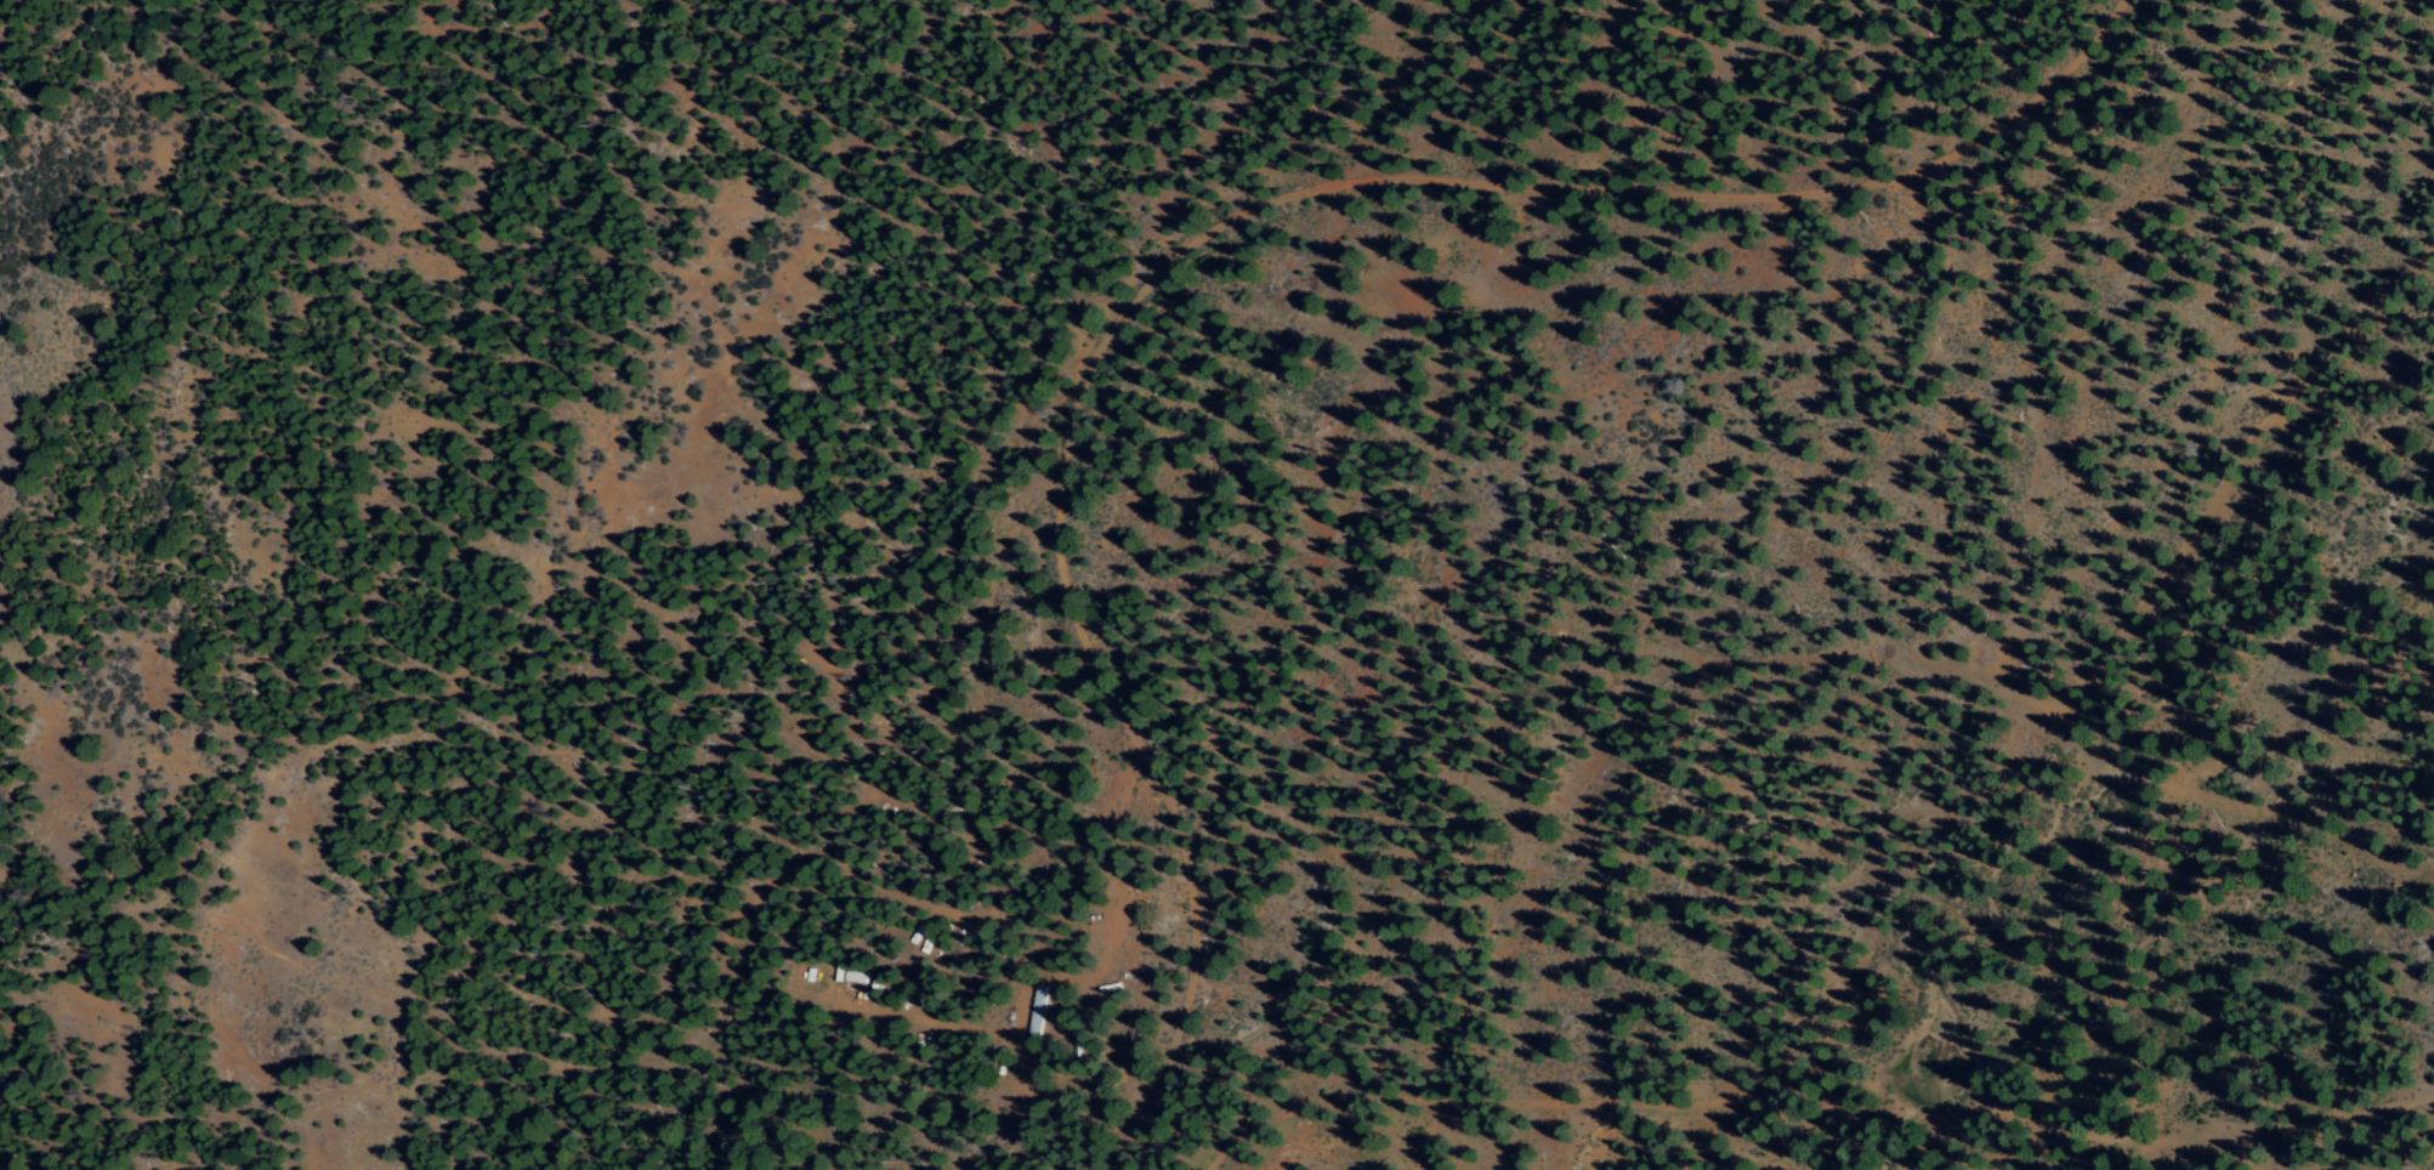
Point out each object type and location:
road: (2426, 12)
road: (1293, 191)
road: (2239, 448)
road: (1724, 759)

